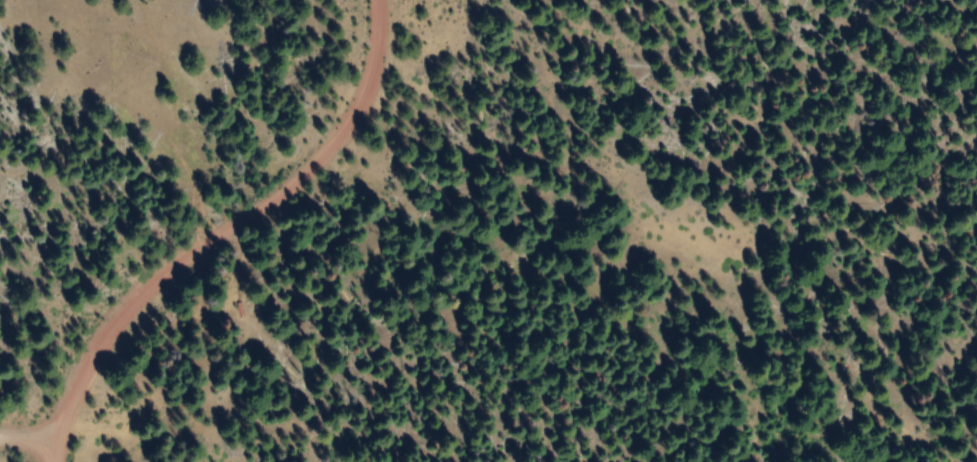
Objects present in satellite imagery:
road: (216, 228)
road: (31, 450)
road: (43, 456)

